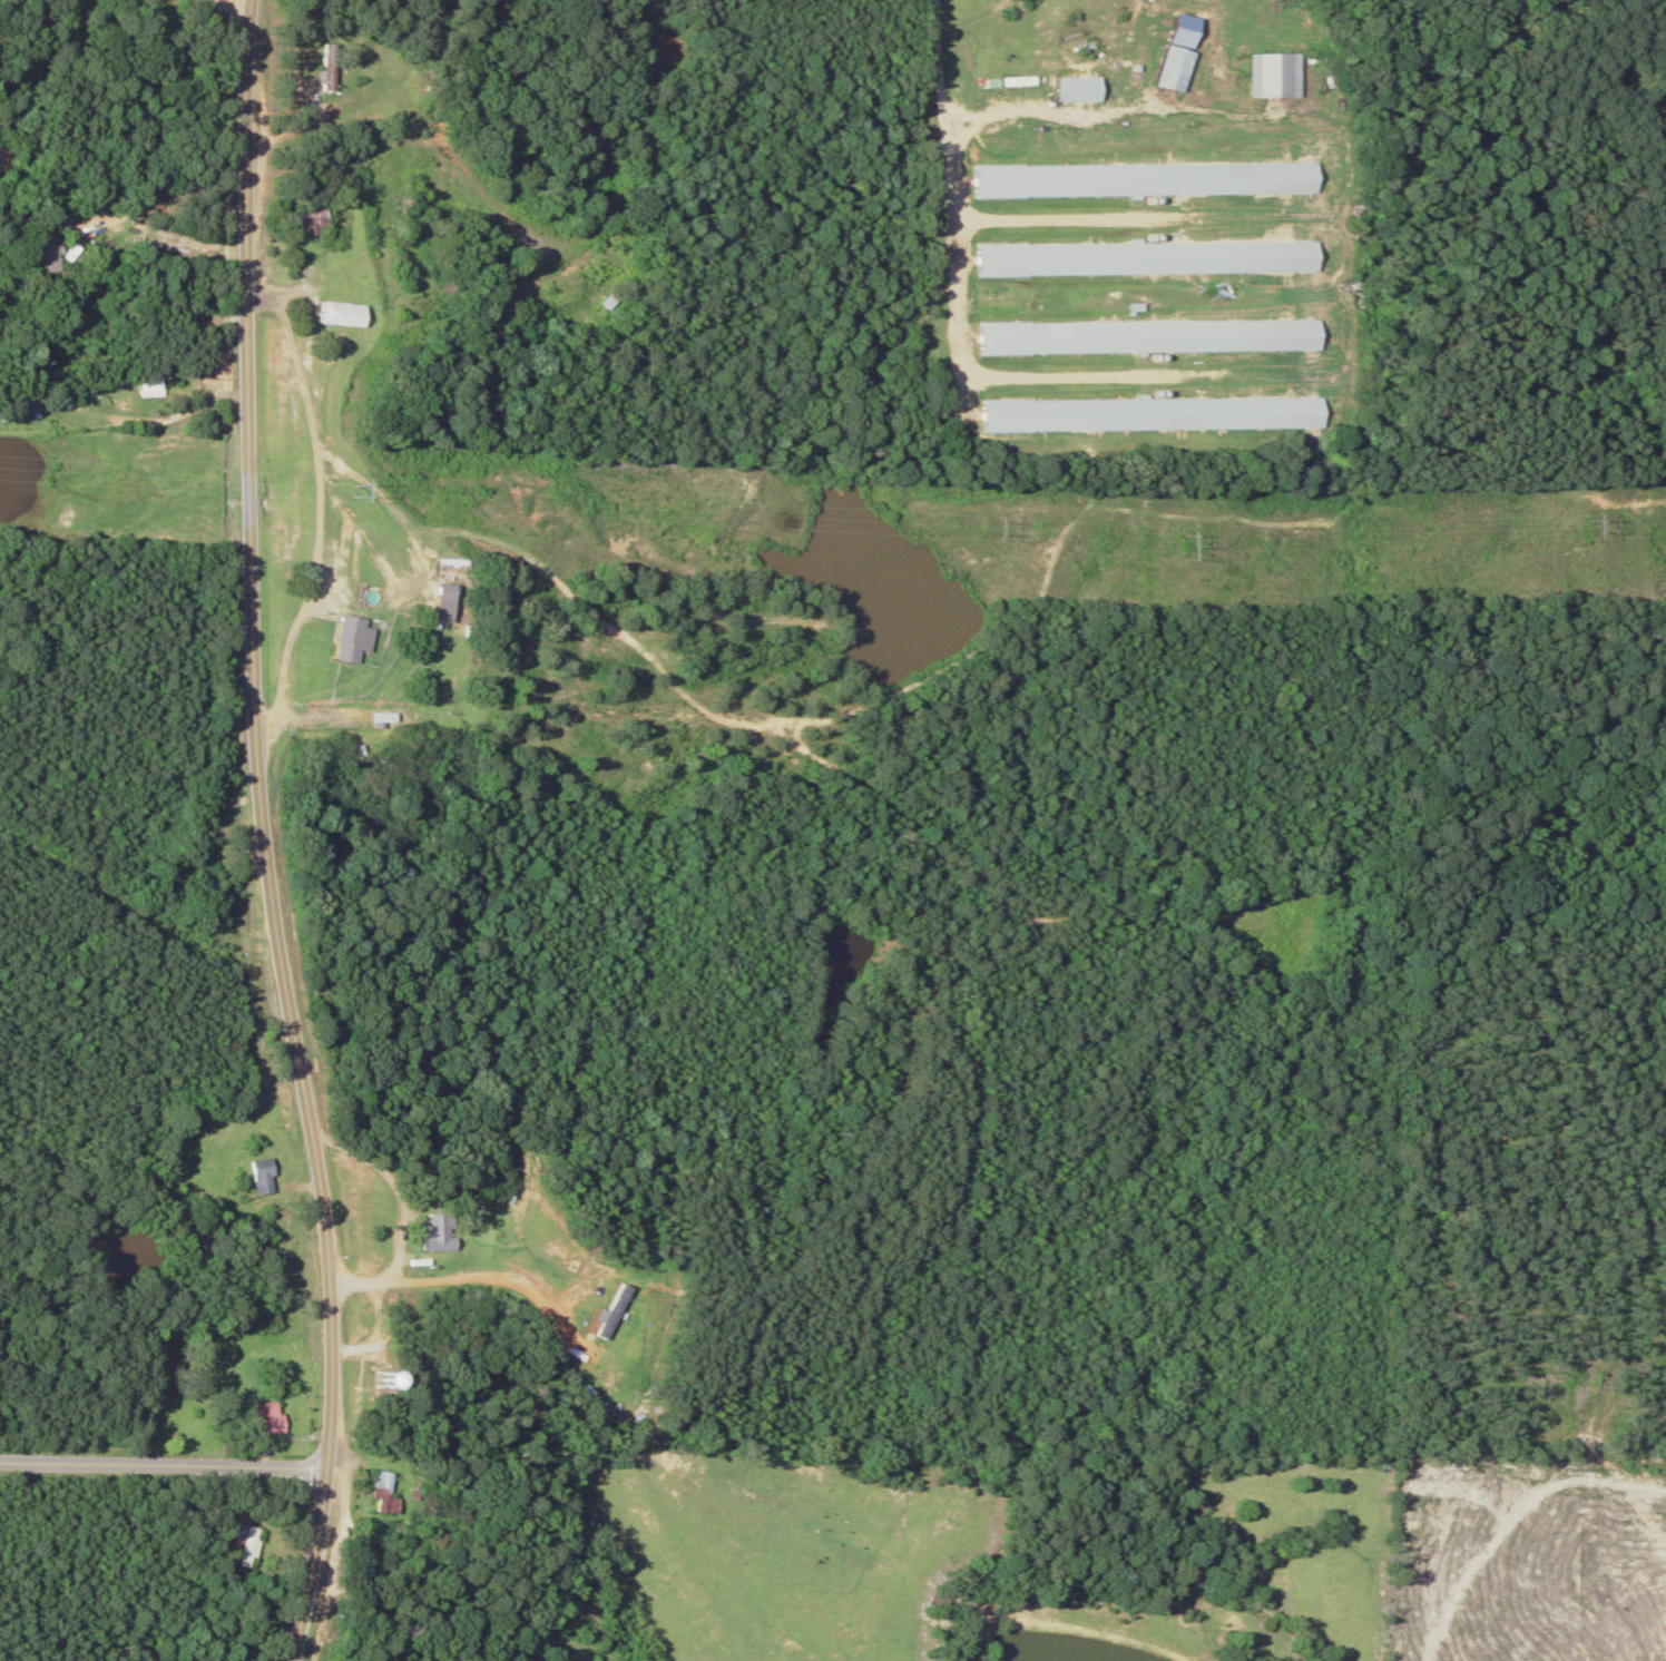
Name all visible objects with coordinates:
building: (330, 68)
building: (1270, 76)
building: (1085, 89)
building: (1140, 179)
building: (304, 222)
building: (46, 254)
building: (1140, 258)
building: (571, 265)
building: (604, 304)
building: (334, 314)
building: (1139, 336)
building: (1138, 414)
building: (336, 640)
road: (254, 834)
building: (190, 887)
building: (243, 1177)
building: (423, 1235)
building: (247, 1416)
road: (157, 1464)
building: (374, 1493)
building: (227, 1544)

